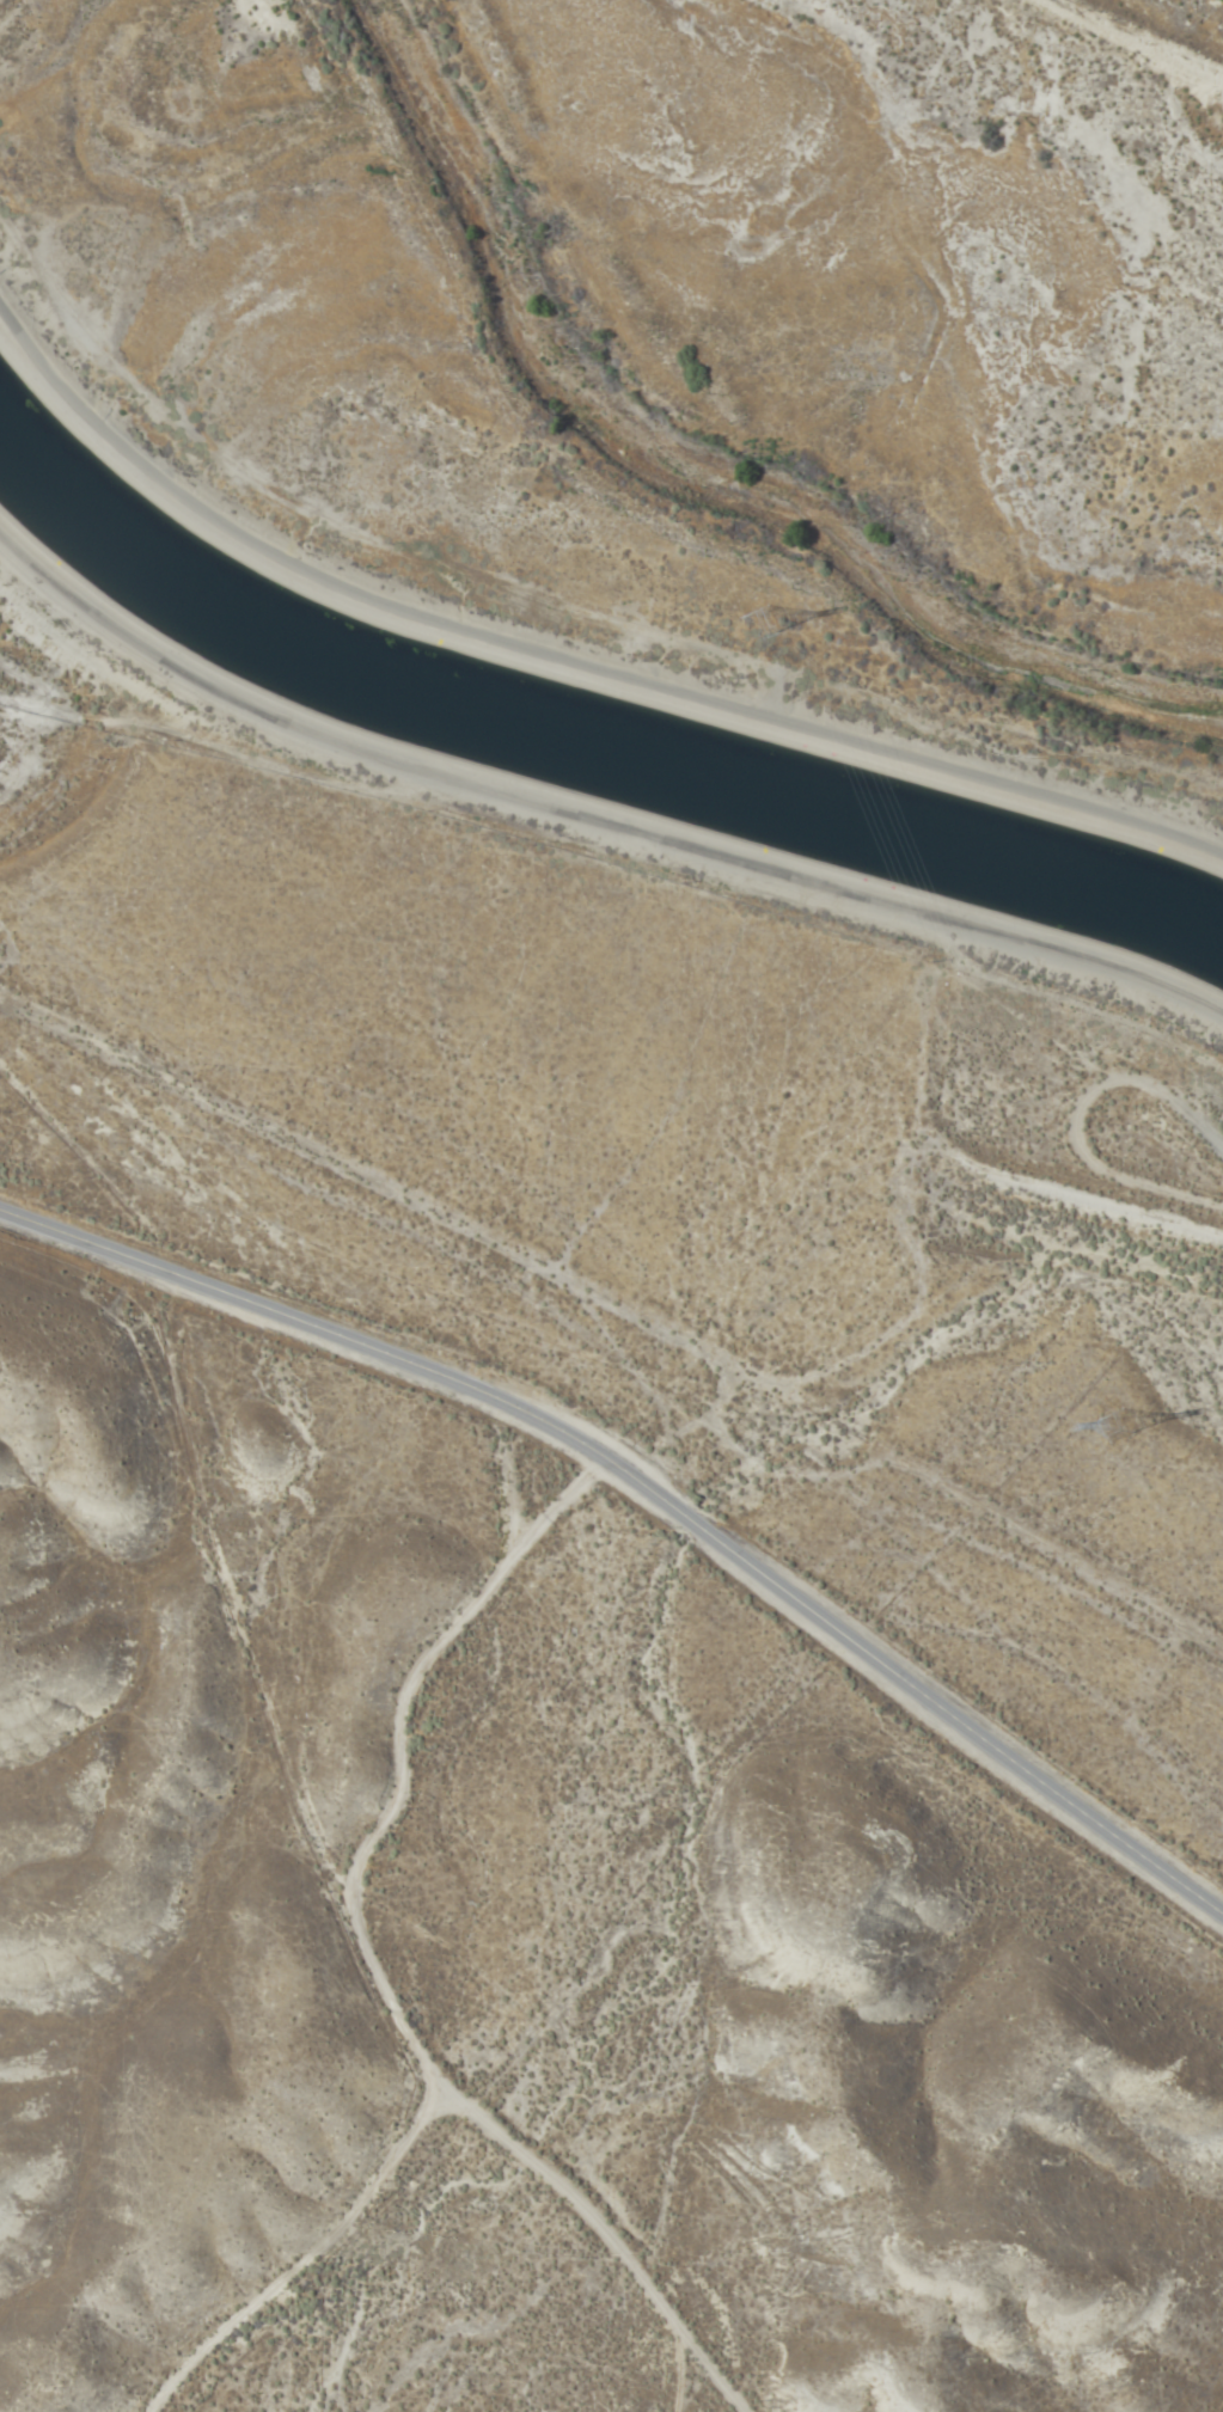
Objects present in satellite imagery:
road: (1131, 45)
power tower: (759, 626)
road: (562, 663)
road: (592, 824)
road: (1080, 1120)
road: (1095, 1199)
road: (614, 1294)
power tower: (1112, 1420)
road: (650, 1486)
road: (647, 1600)
road: (403, 1941)

